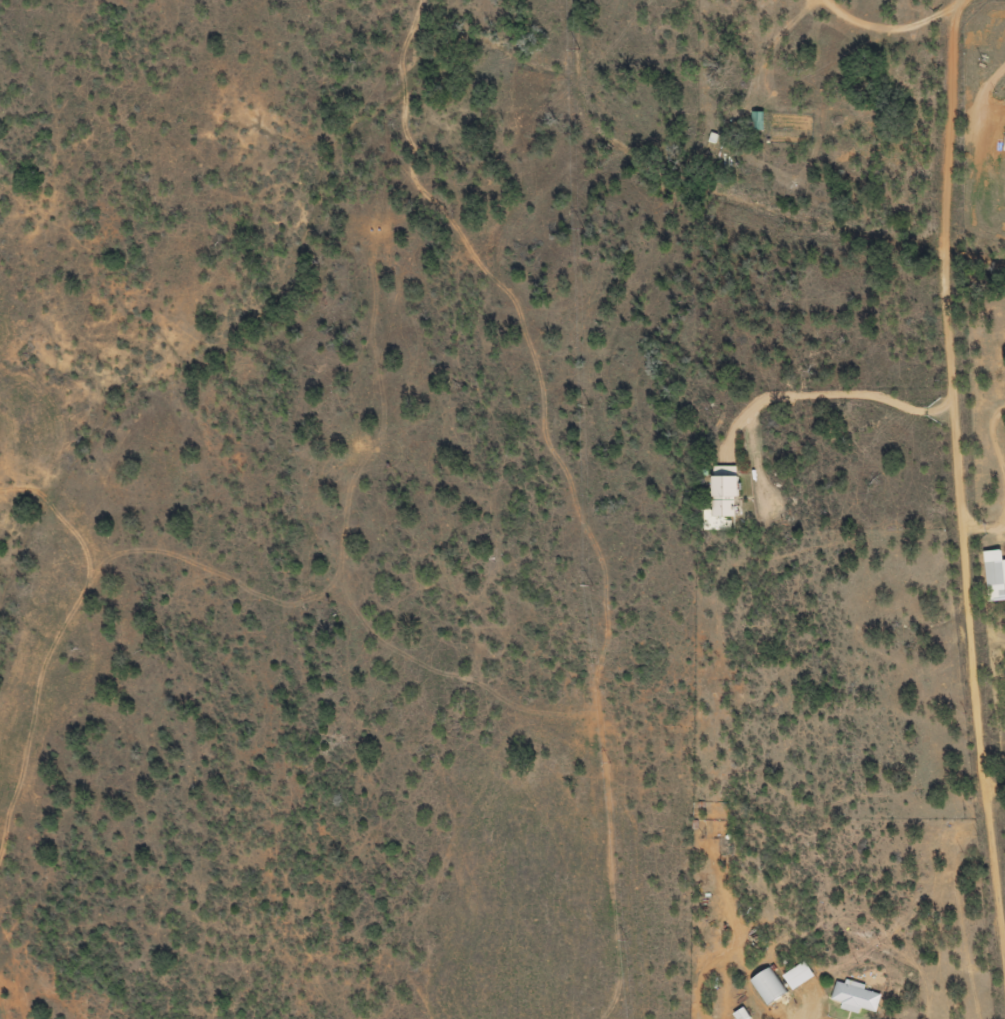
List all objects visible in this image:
building: (1004, 150)
road: (908, 377)
building: (727, 492)
building: (995, 576)
building: (799, 977)
building: (769, 988)
building: (857, 999)
building: (742, 1015)

